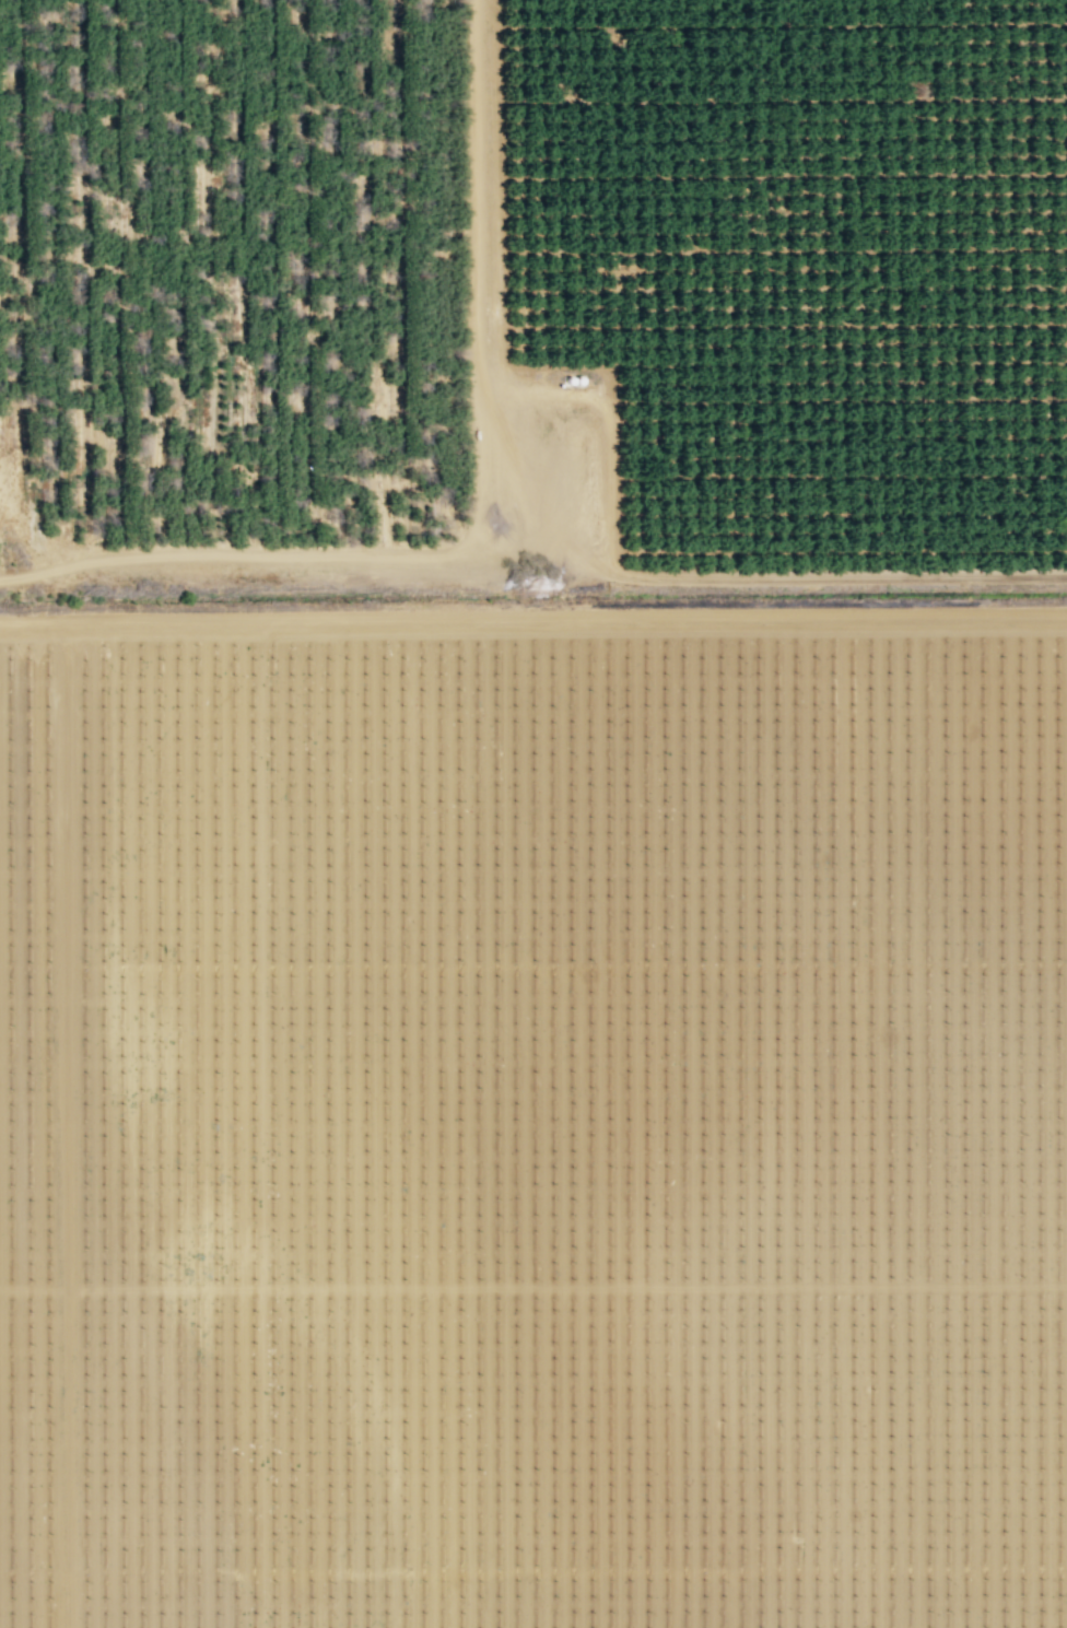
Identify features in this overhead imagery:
road: (645, 590)

